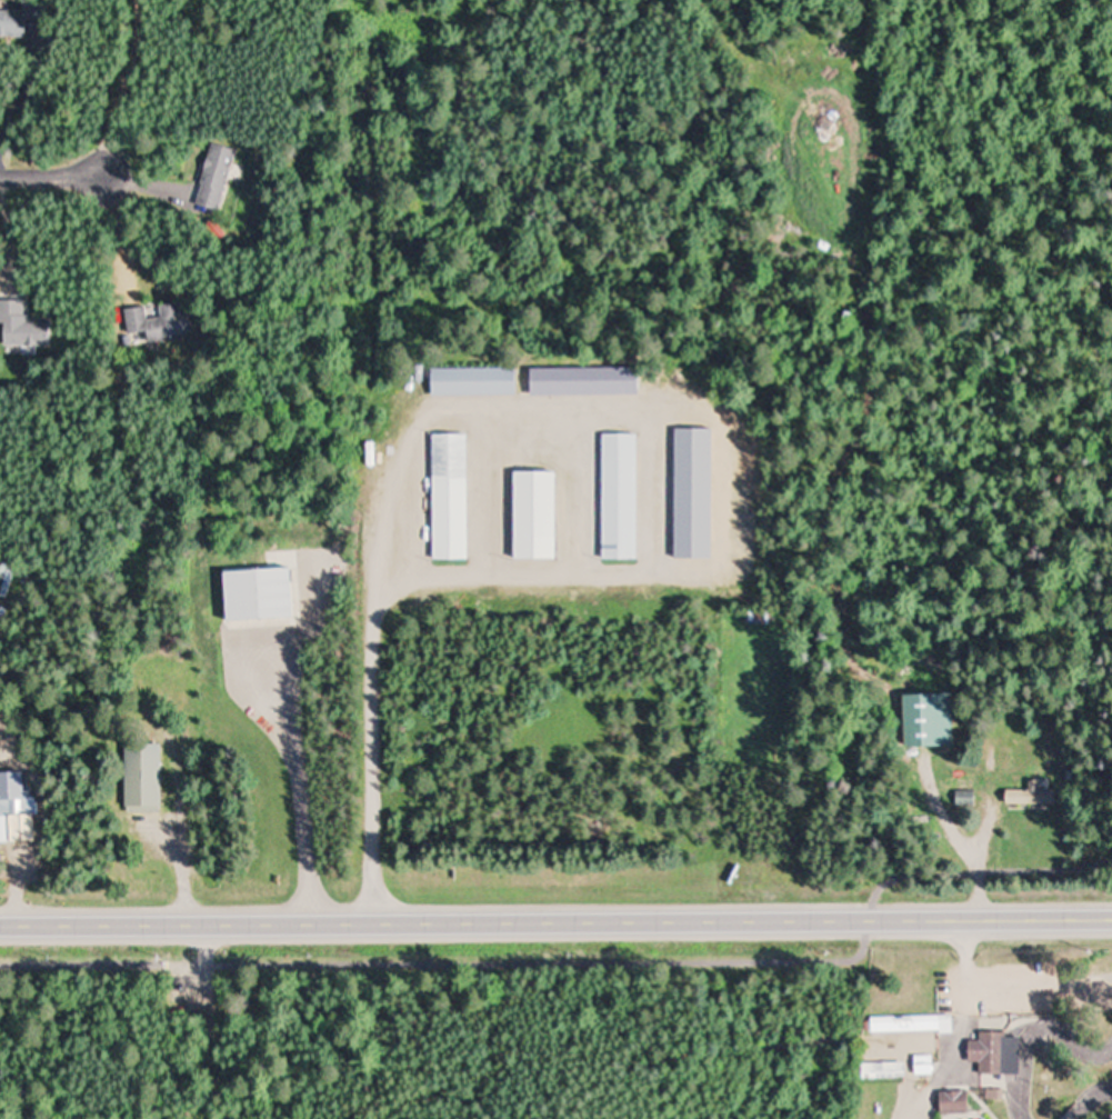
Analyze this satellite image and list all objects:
building: (18, 20)
road: (52, 172)
building: (212, 177)
building: (160, 322)
building: (20, 326)
building: (471, 380)
building: (447, 496)
building: (615, 496)
building: (532, 514)
building: (256, 595)
building: (924, 719)
building: (140, 777)
building: (1028, 796)
building: (13, 818)
road: (555, 915)
road: (582, 960)
building: (918, 1027)
road: (29, 1040)
building: (870, 1053)
building: (1000, 1055)
building: (921, 1066)
building: (888, 1071)
building: (930, 1076)
building: (958, 1103)

